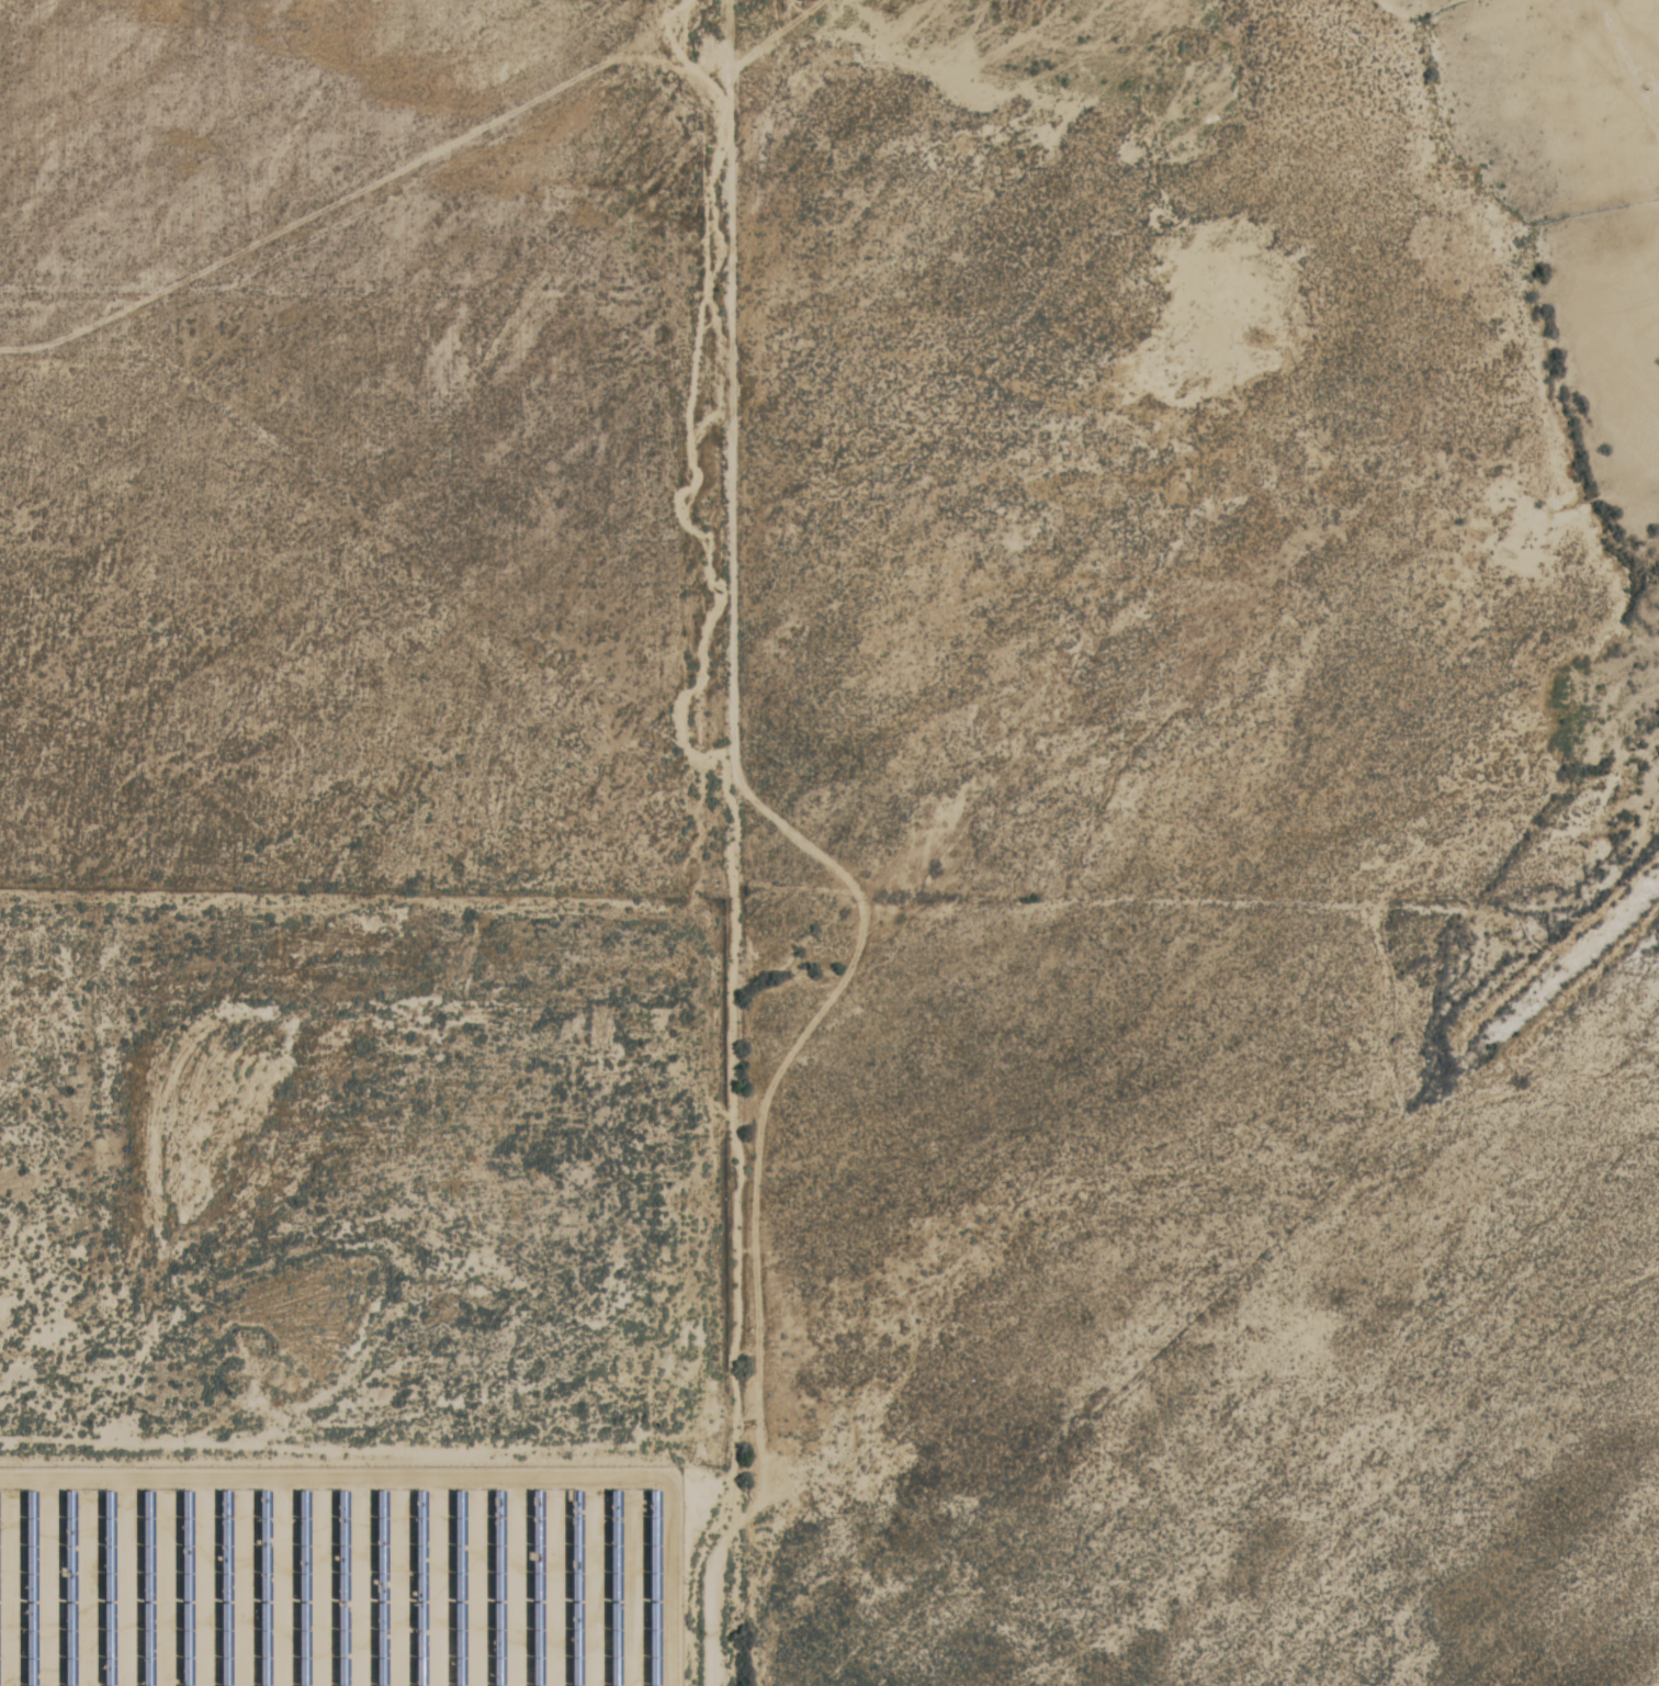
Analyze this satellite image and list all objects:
road: (363, 186)
road: (371, 527)
road: (723, 843)
solar farm: (339, 1575)
building: (5, 1668)

